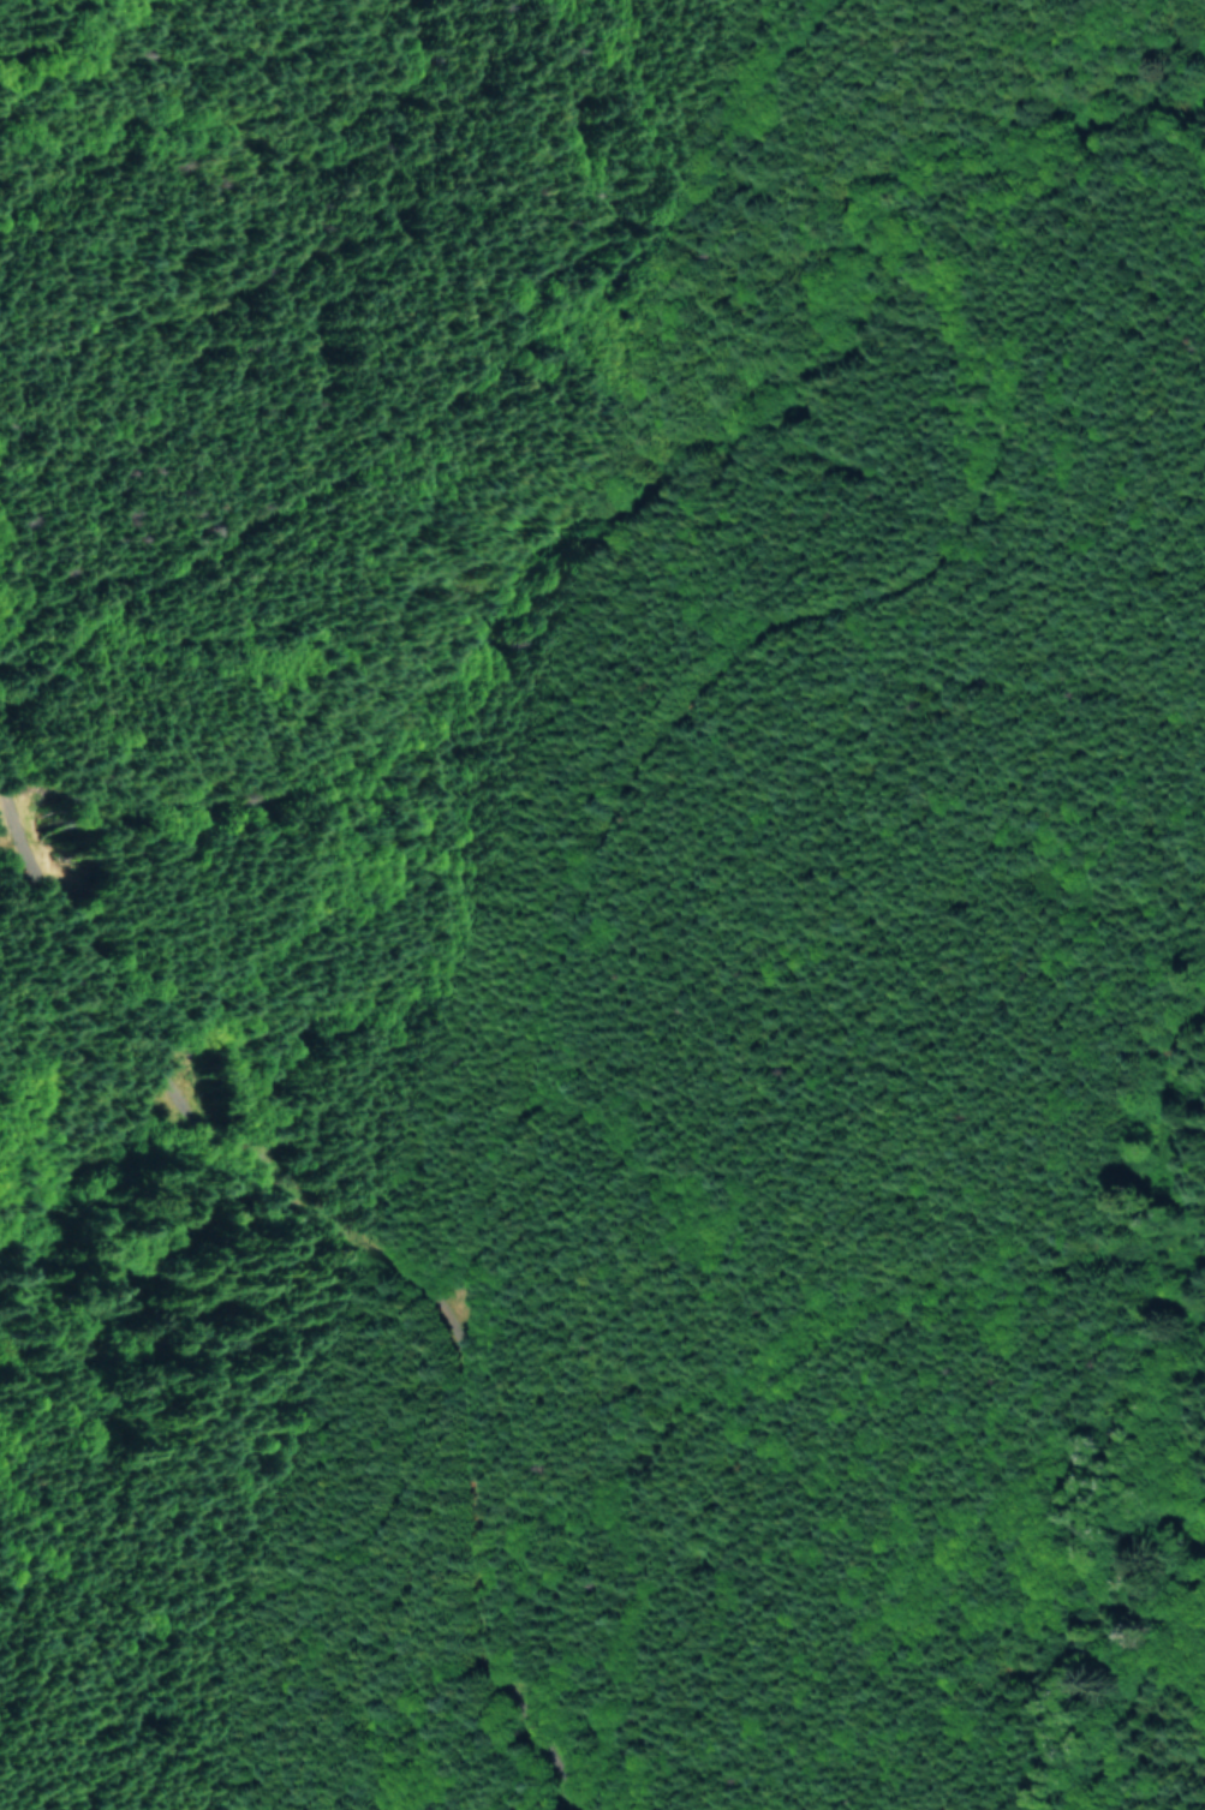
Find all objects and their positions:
road: (359, 1259)

